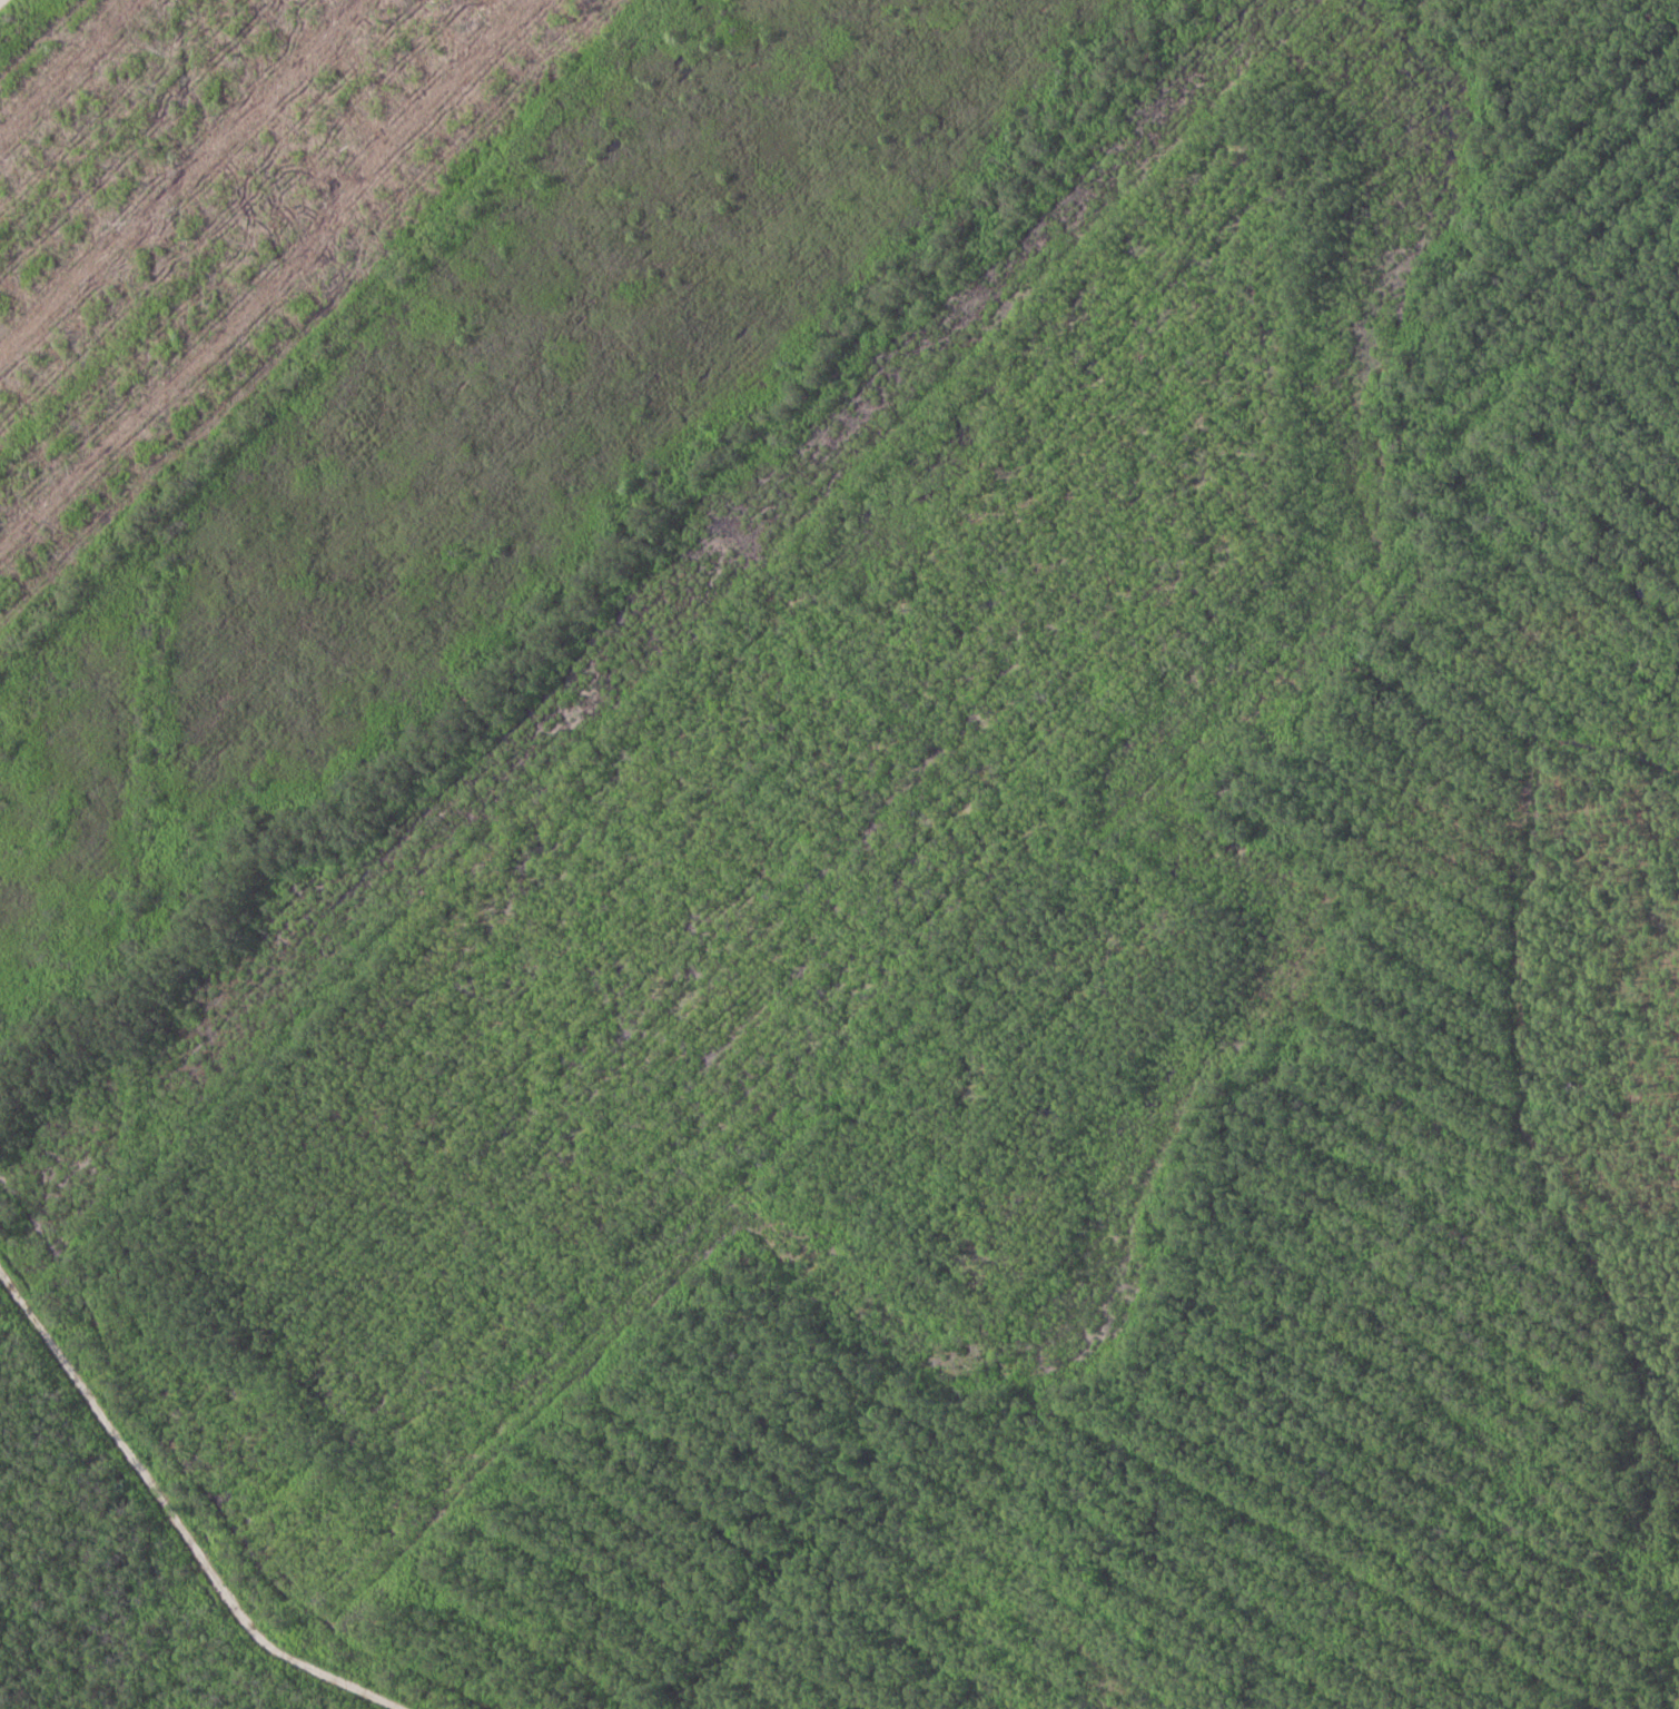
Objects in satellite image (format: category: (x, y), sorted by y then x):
road: (170, 1505)

